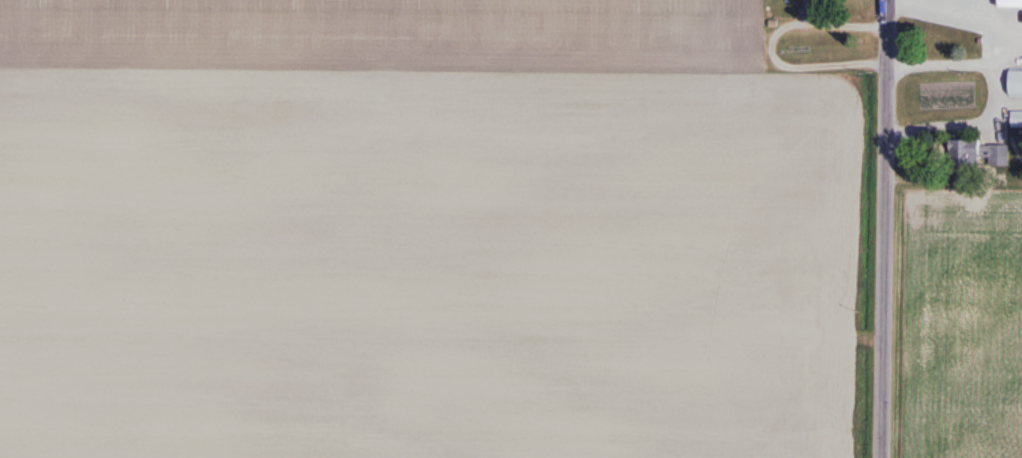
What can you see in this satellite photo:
building: (1010, 4)
building: (812, 9)
building: (1016, 83)
building: (1017, 119)
building: (979, 155)
road: (883, 229)

